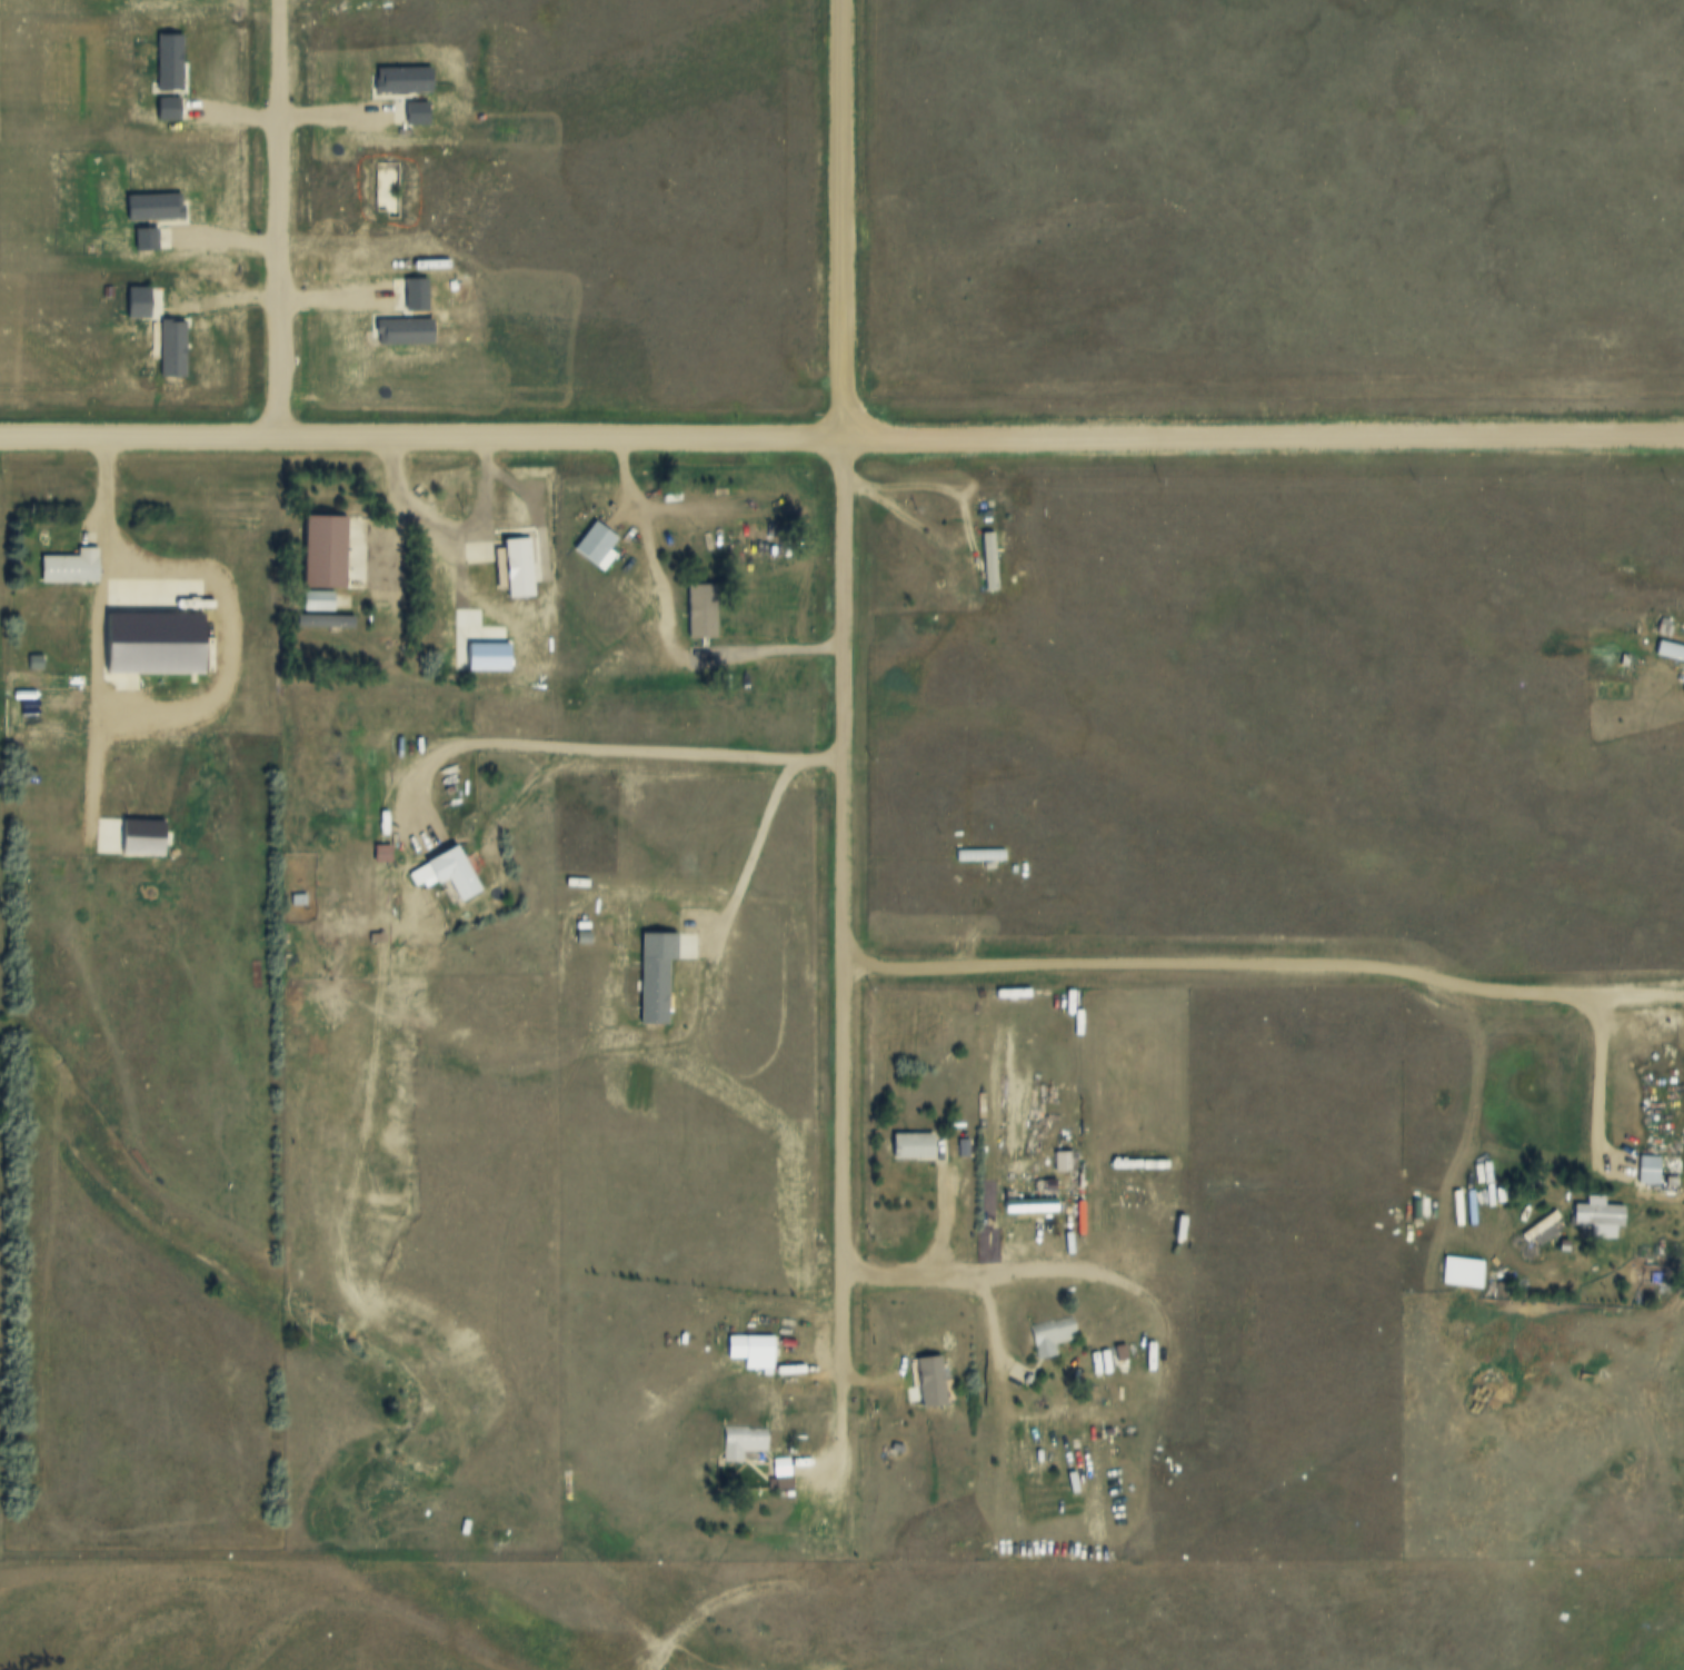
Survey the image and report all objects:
road: (268, 218)
road: (841, 436)
road: (104, 507)
road: (395, 518)
road: (898, 519)
building: (592, 545)
building: (67, 566)
building: (514, 566)
building: (313, 599)
building: (698, 609)
road: (745, 639)
building: (1668, 649)
road: (596, 748)
road: (844, 750)
building: (444, 873)
road: (1264, 964)
road: (1596, 1078)
building: (907, 1145)
building: (1646, 1169)
building: (1595, 1212)
building: (1539, 1227)
road: (931, 1255)
road: (971, 1298)
building: (1047, 1335)
building: (757, 1346)
building: (927, 1384)
building: (740, 1443)

